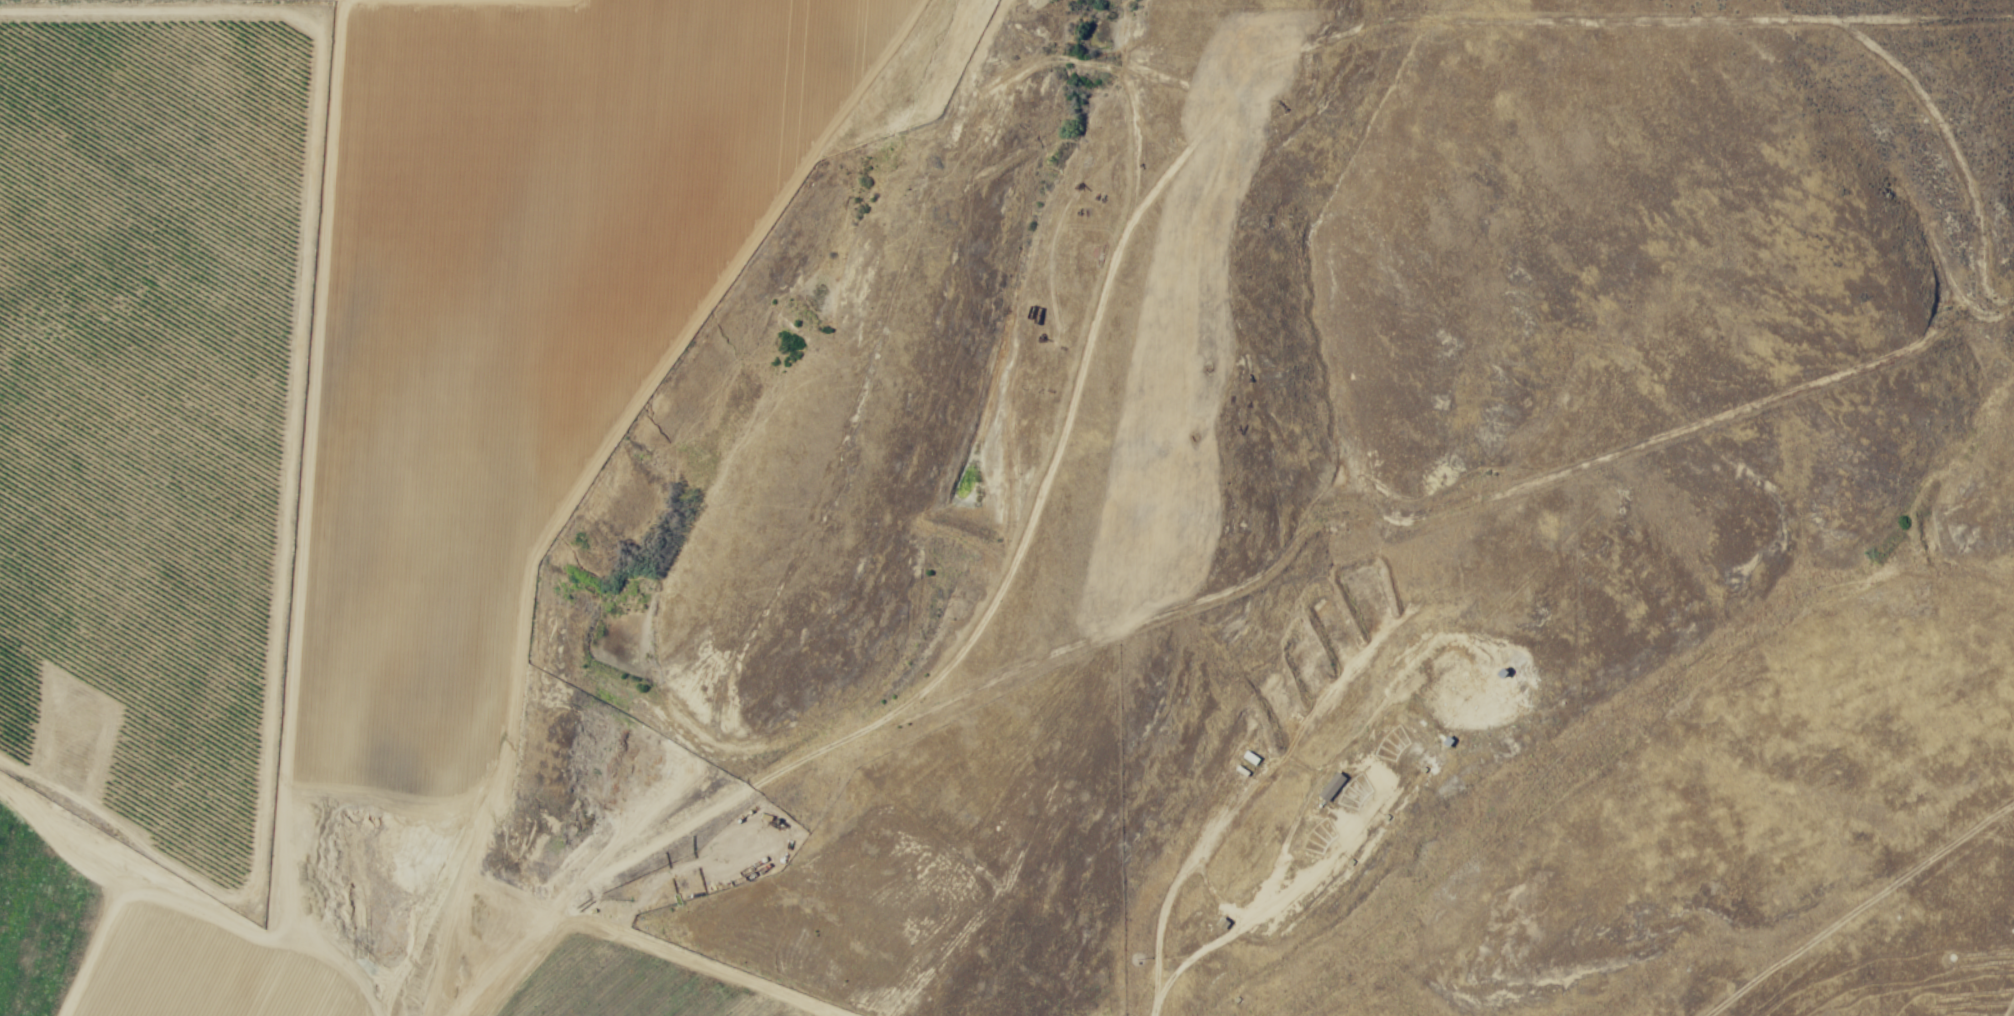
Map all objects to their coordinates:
crop: (307, 419)
building: (1355, 630)
building: (1332, 788)
building: (1222, 924)
crop: (609, 982)

